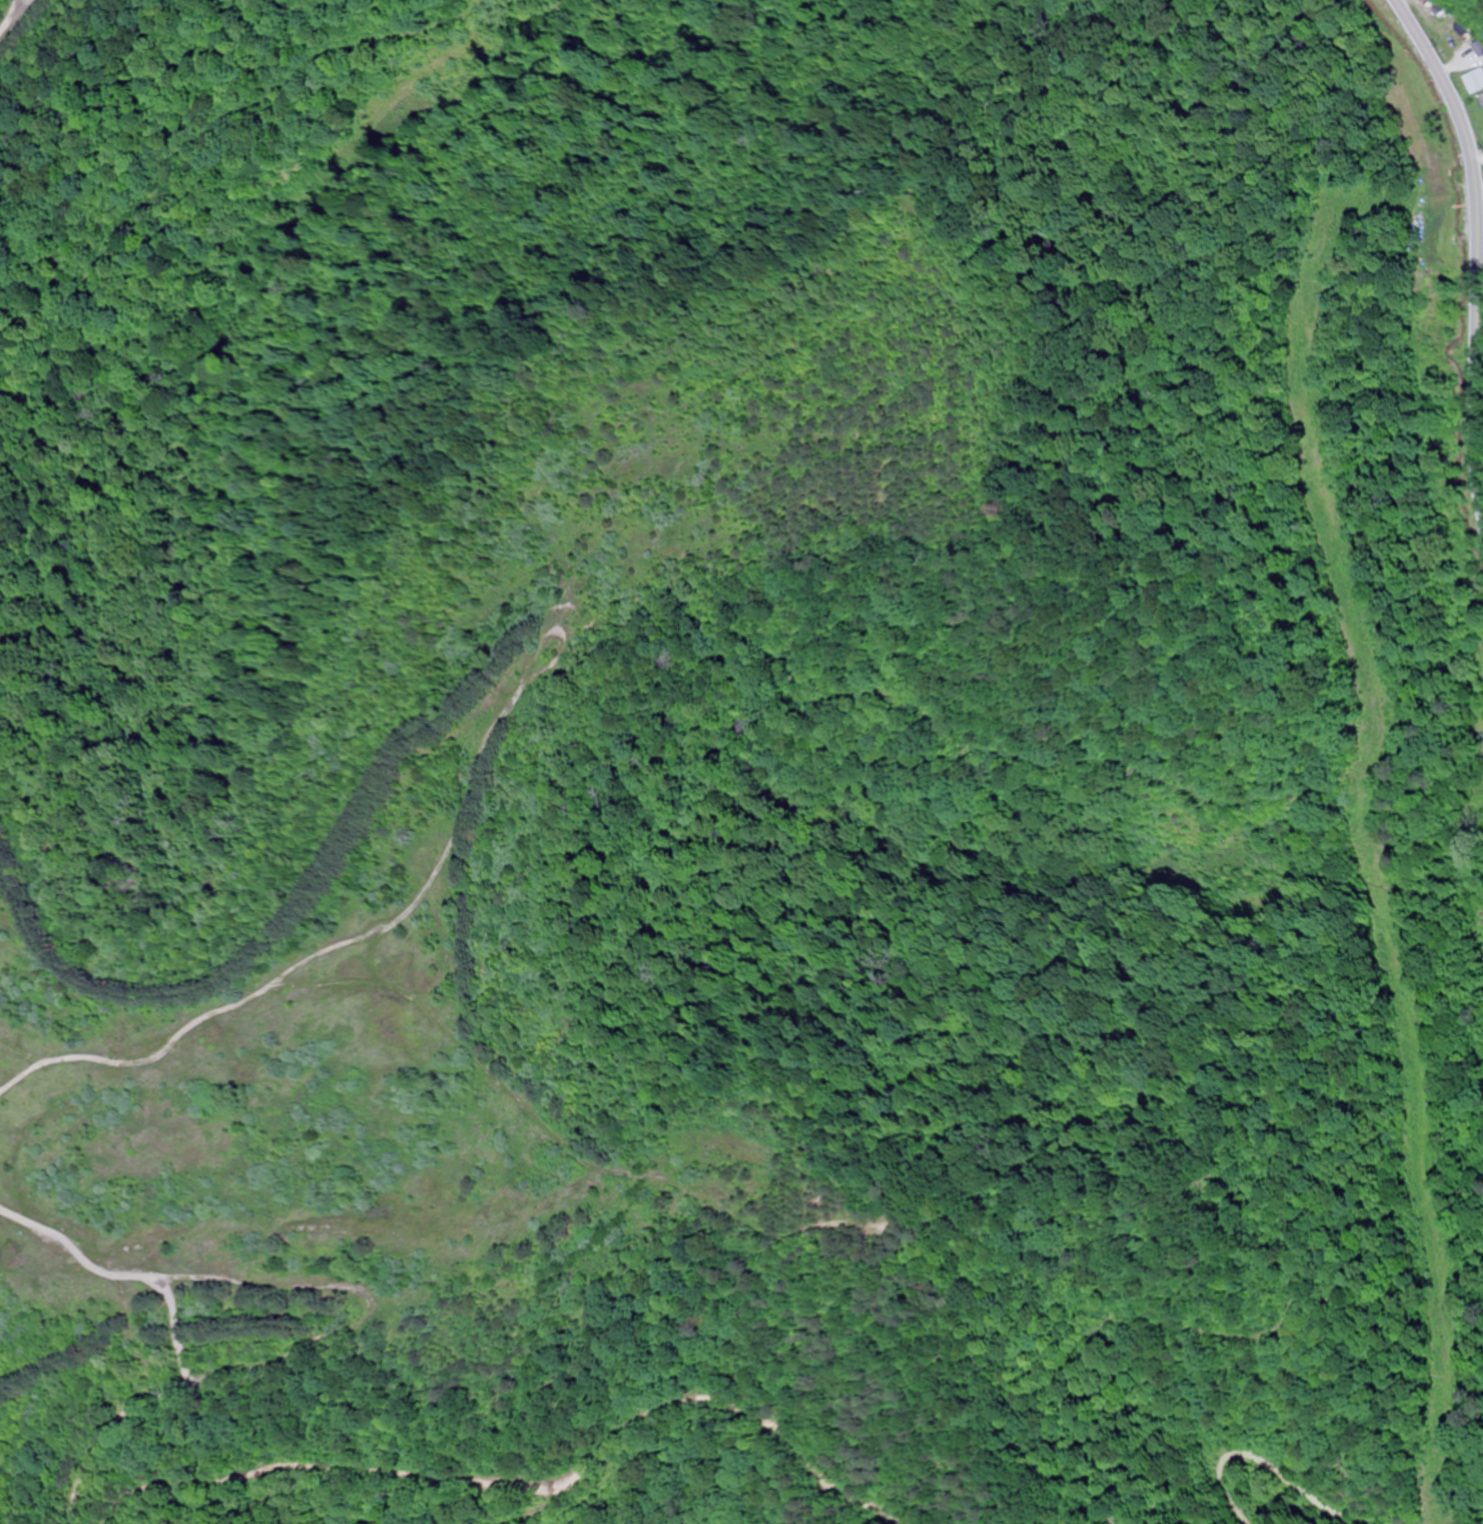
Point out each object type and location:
building: (1476, 83)
road: (1474, 173)
road: (55, 771)

